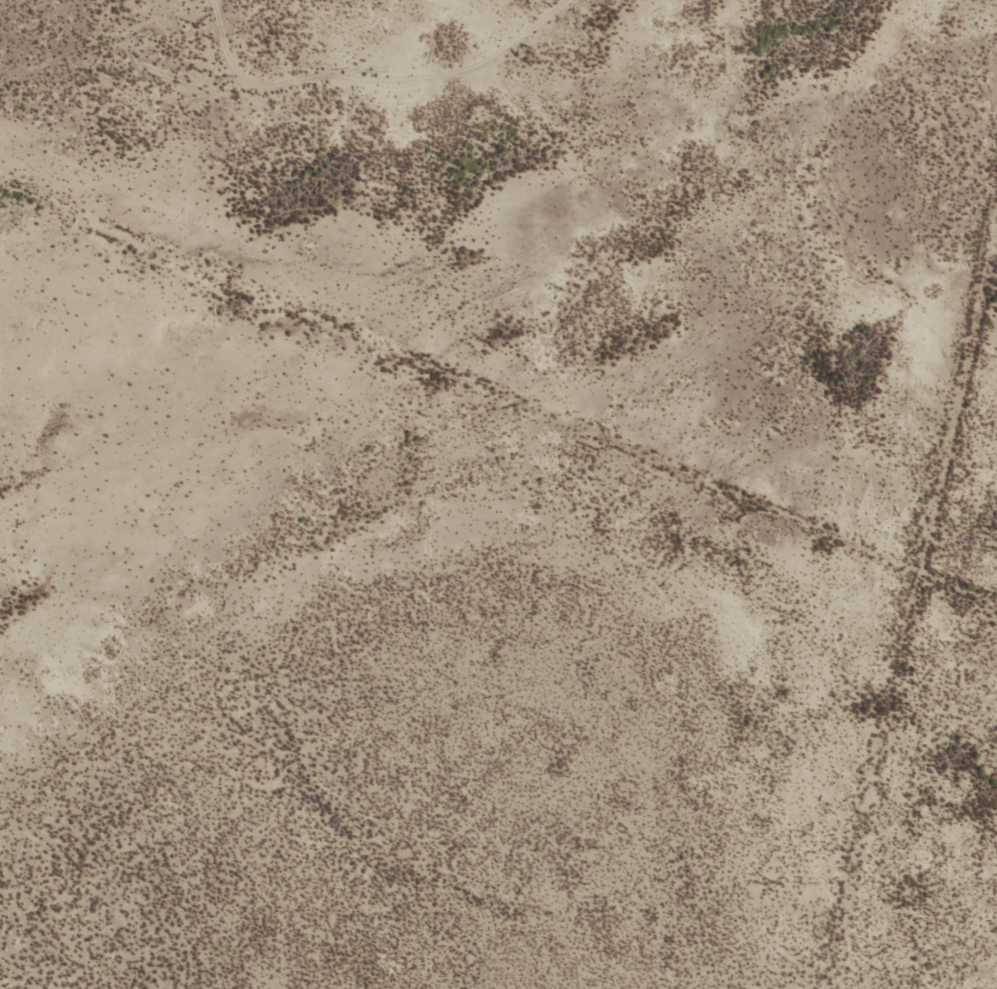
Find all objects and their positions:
road: (558, 378)

